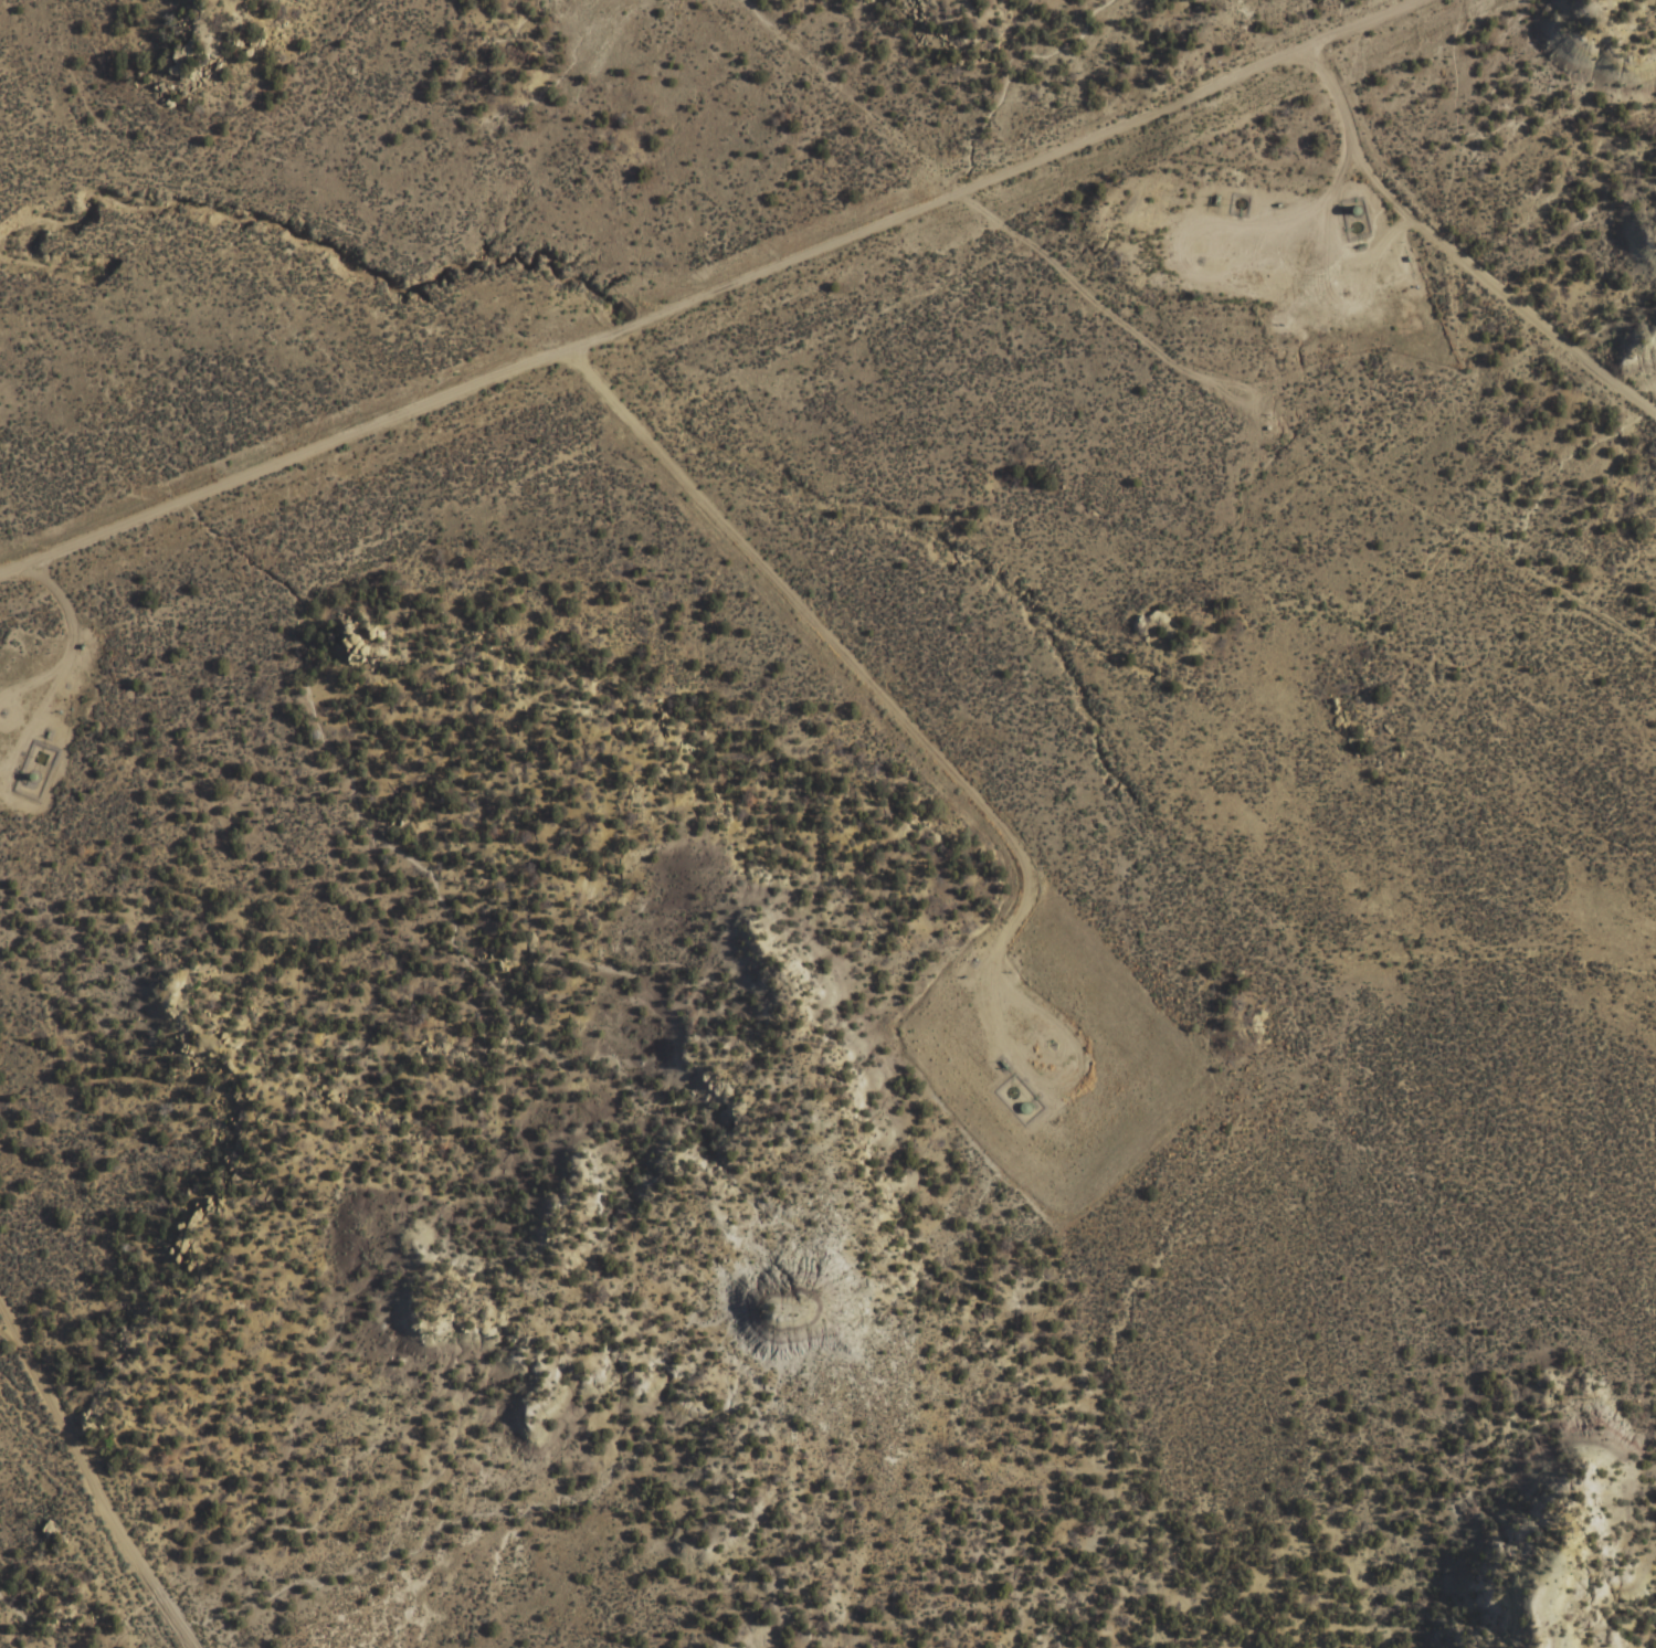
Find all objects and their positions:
road: (800, 98)
road: (708, 292)
road: (68, 1518)

